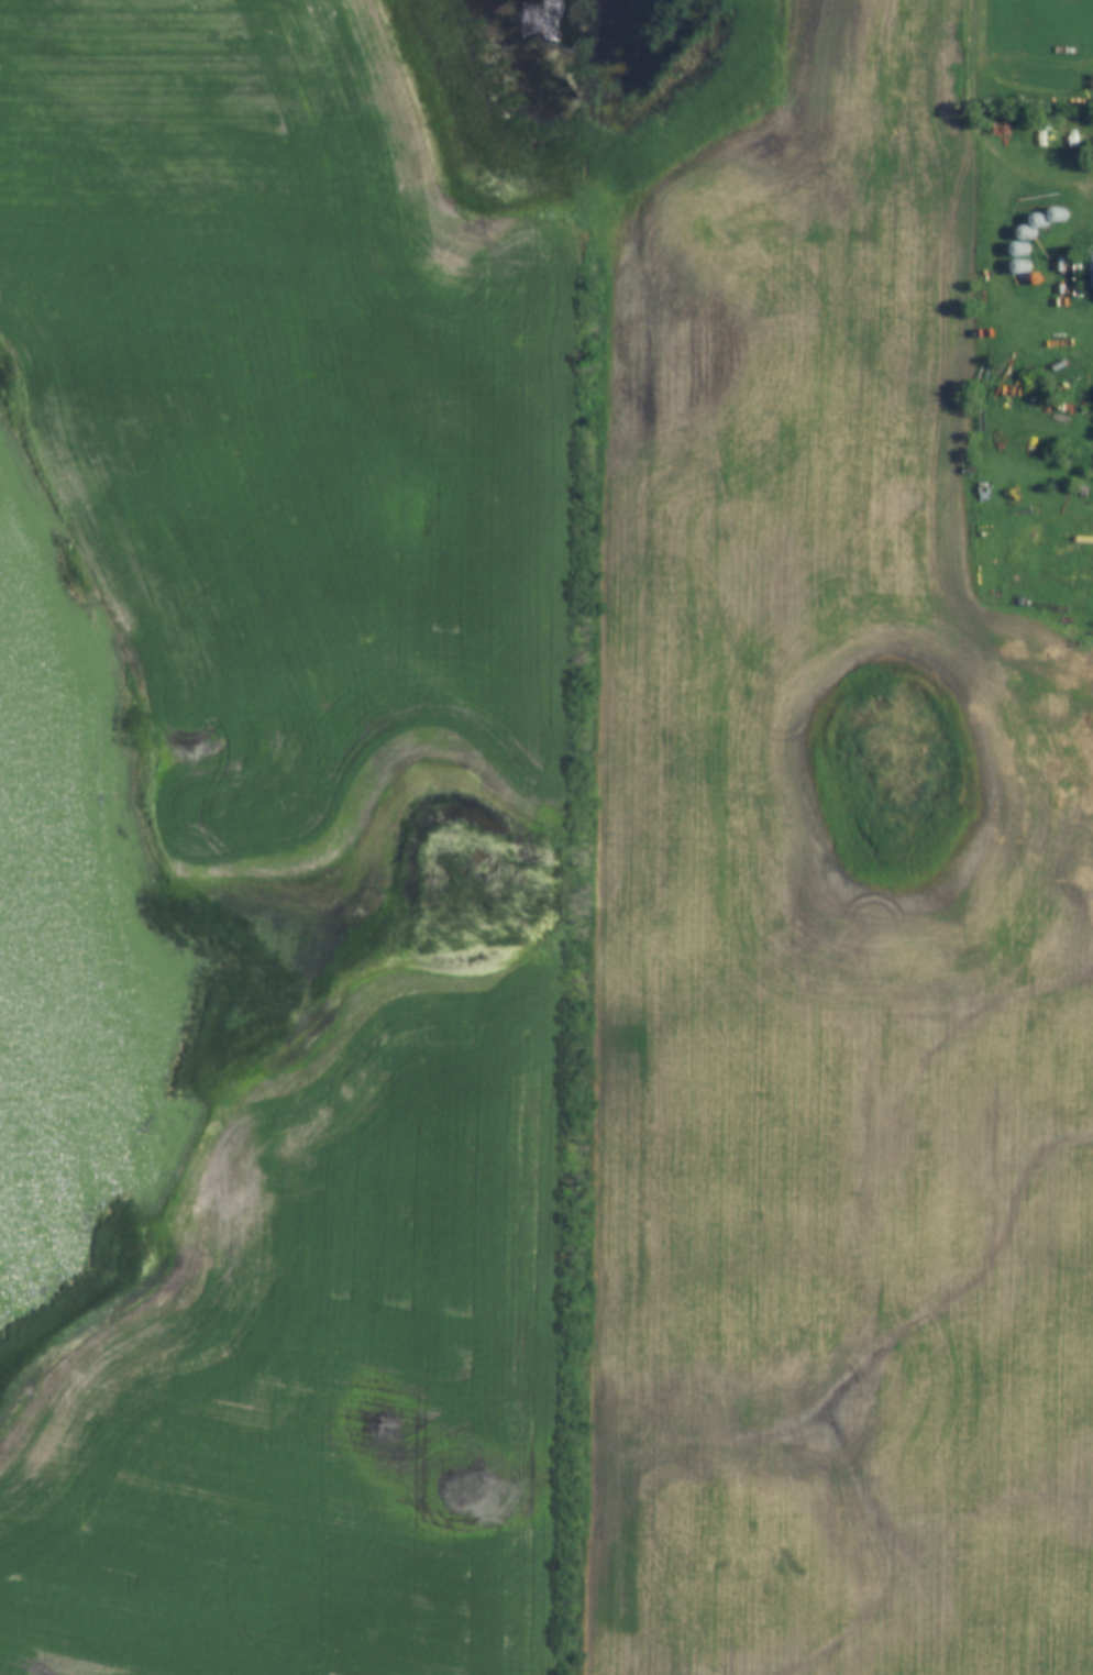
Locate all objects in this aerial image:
road: (975, 71)
building: (1060, 213)
silo: (1060, 213)
building: (1042, 218)
silo: (1042, 218)
building: (1029, 231)
silo: (1029, 231)
building: (1022, 247)
silo: (1022, 247)
building: (1024, 265)
silo: (1024, 265)
building: (1092, 268)

